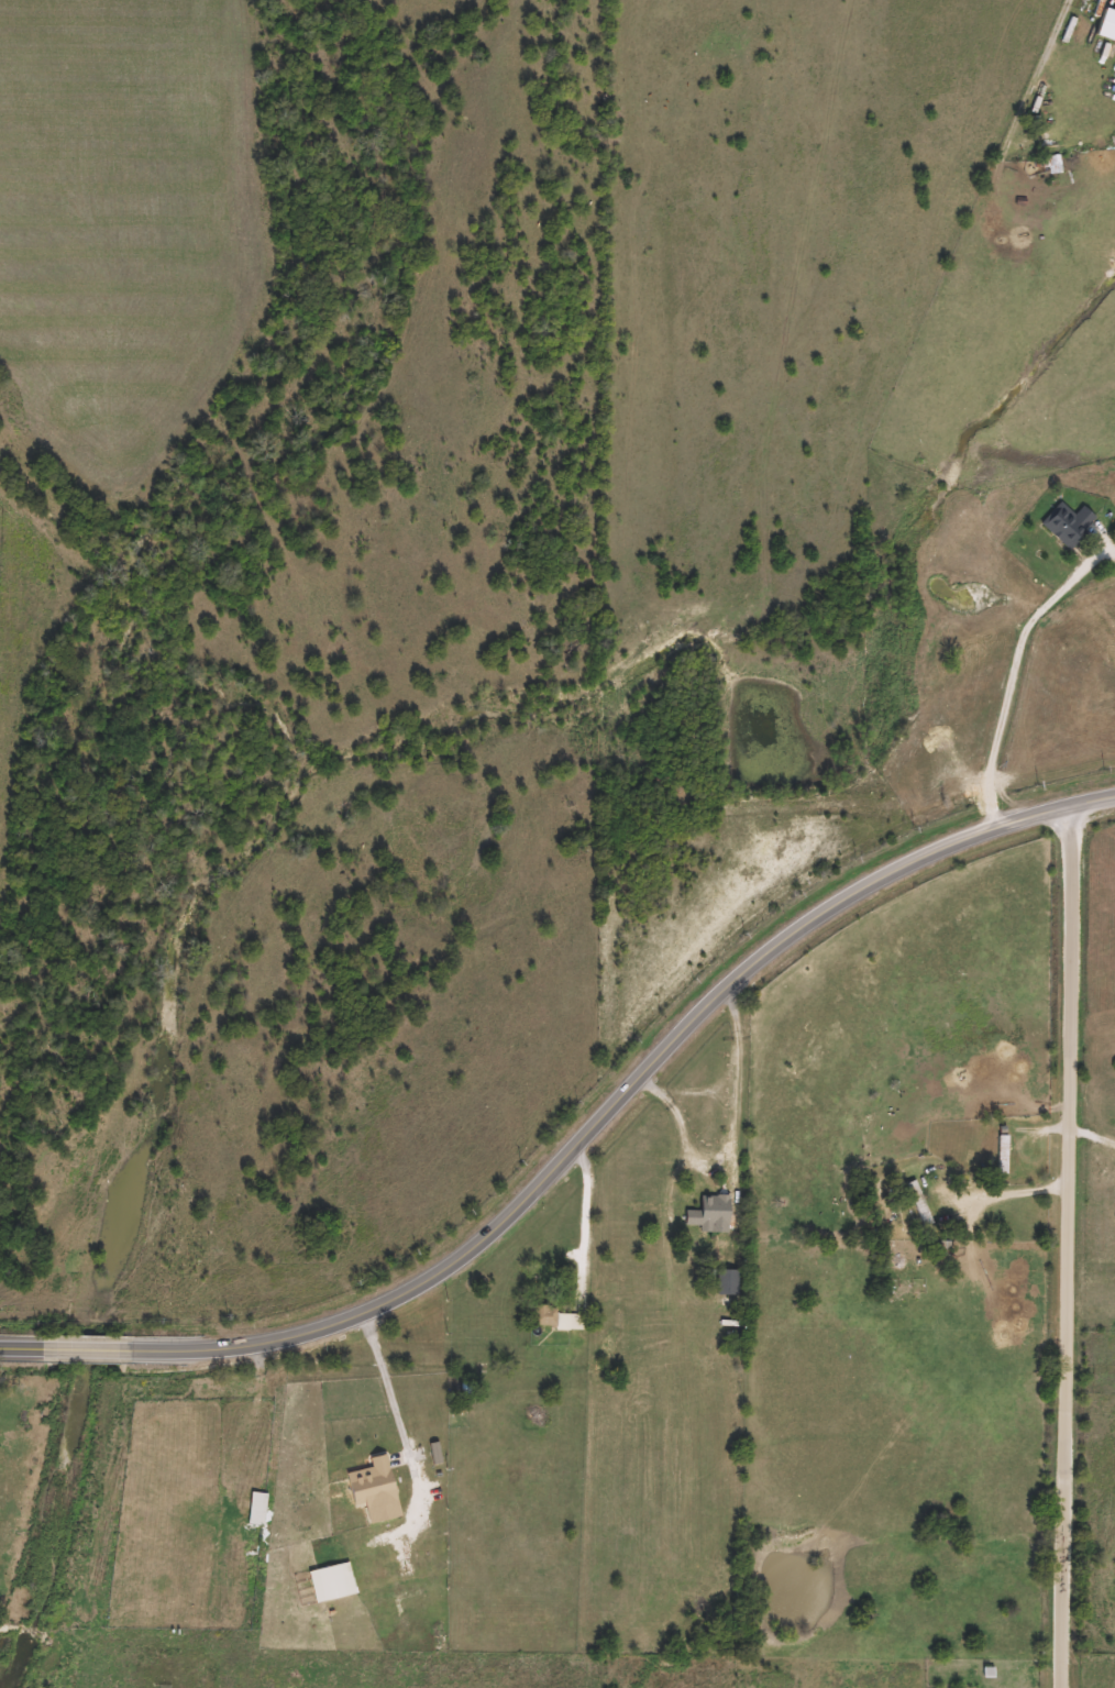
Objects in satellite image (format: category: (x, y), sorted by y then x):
road: (1030, 76)
building: (1053, 168)
building: (1069, 522)
road: (1011, 686)
road: (1095, 1133)
road: (728, 1138)
road: (582, 1140)
building: (1003, 1152)
building: (920, 1202)
building: (714, 1213)
road: (584, 1222)
road: (1074, 1246)
building: (729, 1281)
building: (907, 1291)
building: (555, 1316)
road: (402, 1430)
building: (376, 1483)
building: (258, 1508)
building: (333, 1581)

